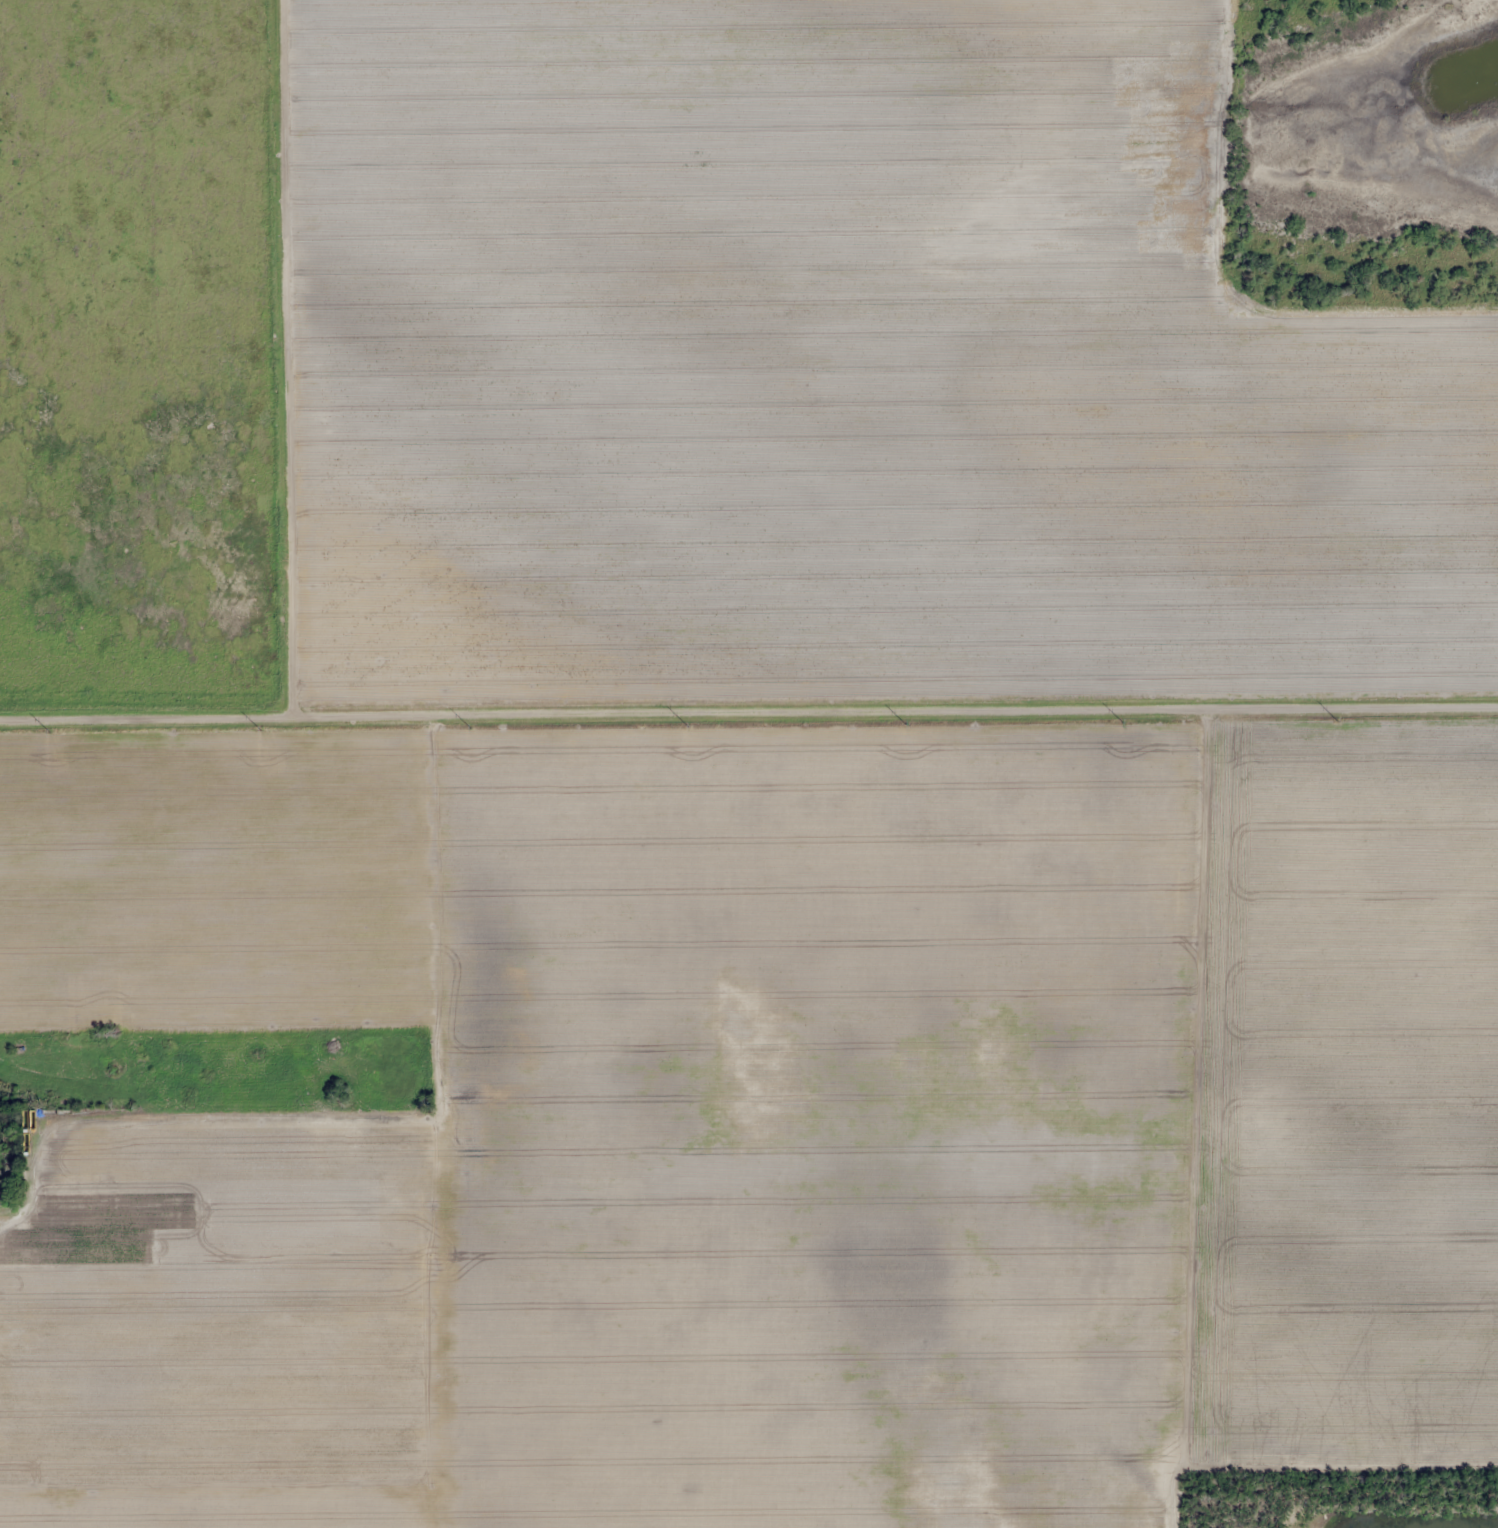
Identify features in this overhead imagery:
road: (285, 356)
road: (749, 705)
road: (1143, 1114)

